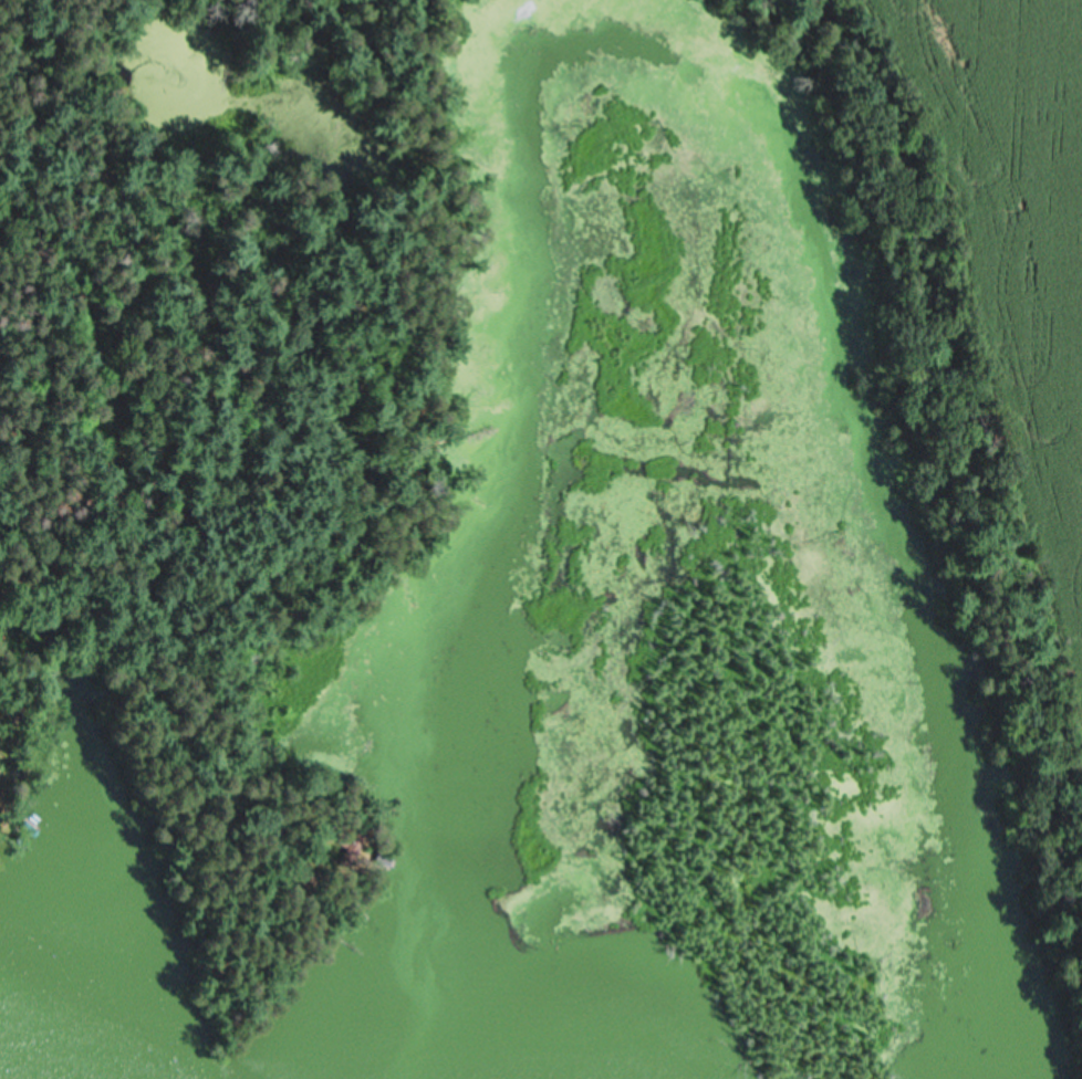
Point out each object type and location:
road: (101, 326)

